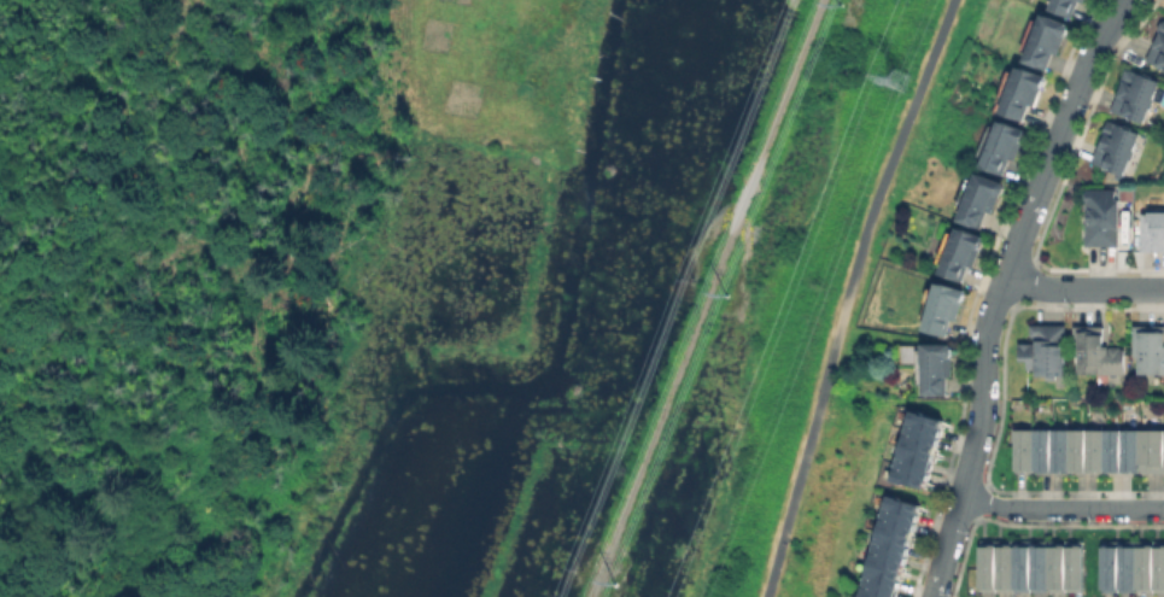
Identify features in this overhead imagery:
building: (1084, 0)
building: (1066, 6)
building: (1049, 40)
building: (1158, 51)
power tower: (894, 77)
building: (1024, 94)
building: (1137, 96)
building: (1010, 150)
building: (1117, 150)
building: (982, 198)
building: (1102, 218)
building: (1153, 232)
building: (961, 253)
road: (1000, 288)
road: (1083, 289)
road: (848, 294)
building: (944, 308)
building: (1151, 350)
building: (1047, 351)
building: (1099, 353)
building: (935, 369)
building: (920, 451)
building: (1089, 452)
road: (1061, 508)
building: (893, 549)
building: (1033, 568)
building: (1134, 568)

